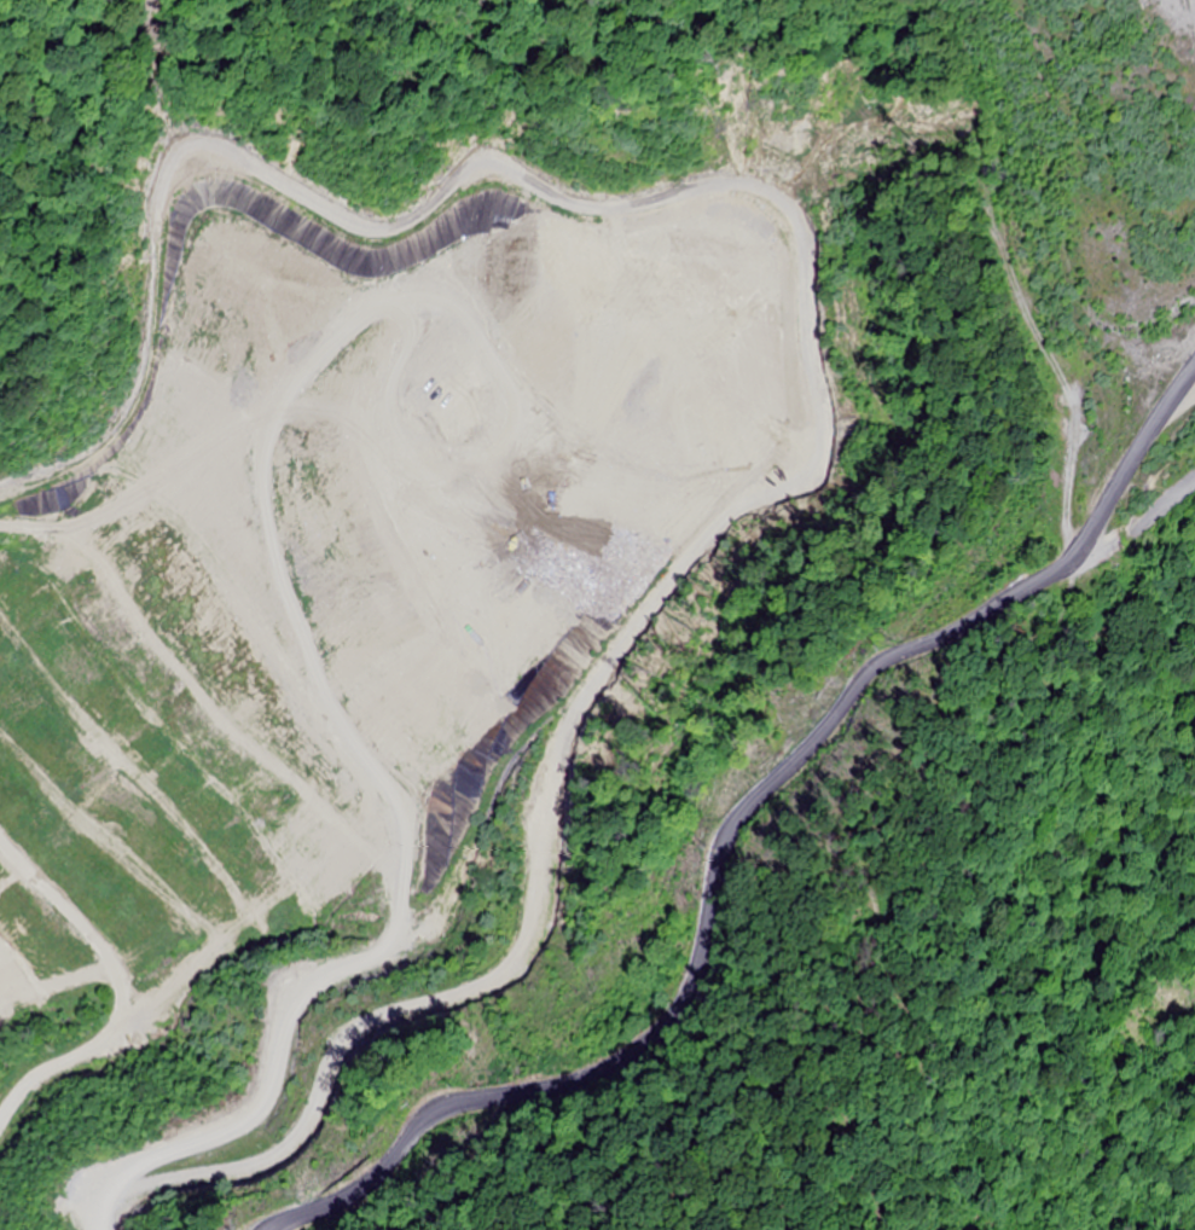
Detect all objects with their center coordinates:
road: (720, 851)

